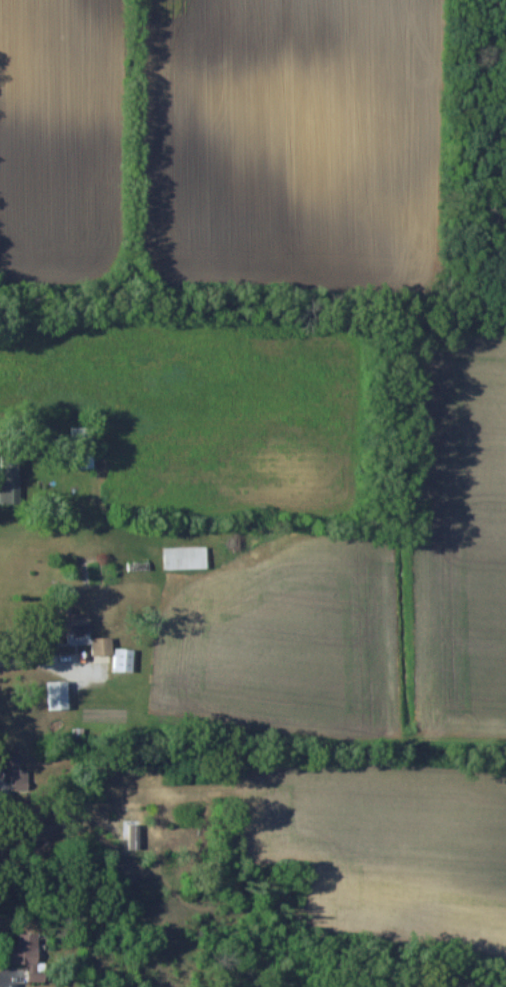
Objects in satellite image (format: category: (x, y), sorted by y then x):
building: (85, 447)
building: (187, 557)
building: (88, 633)
building: (126, 660)
building: (61, 695)

